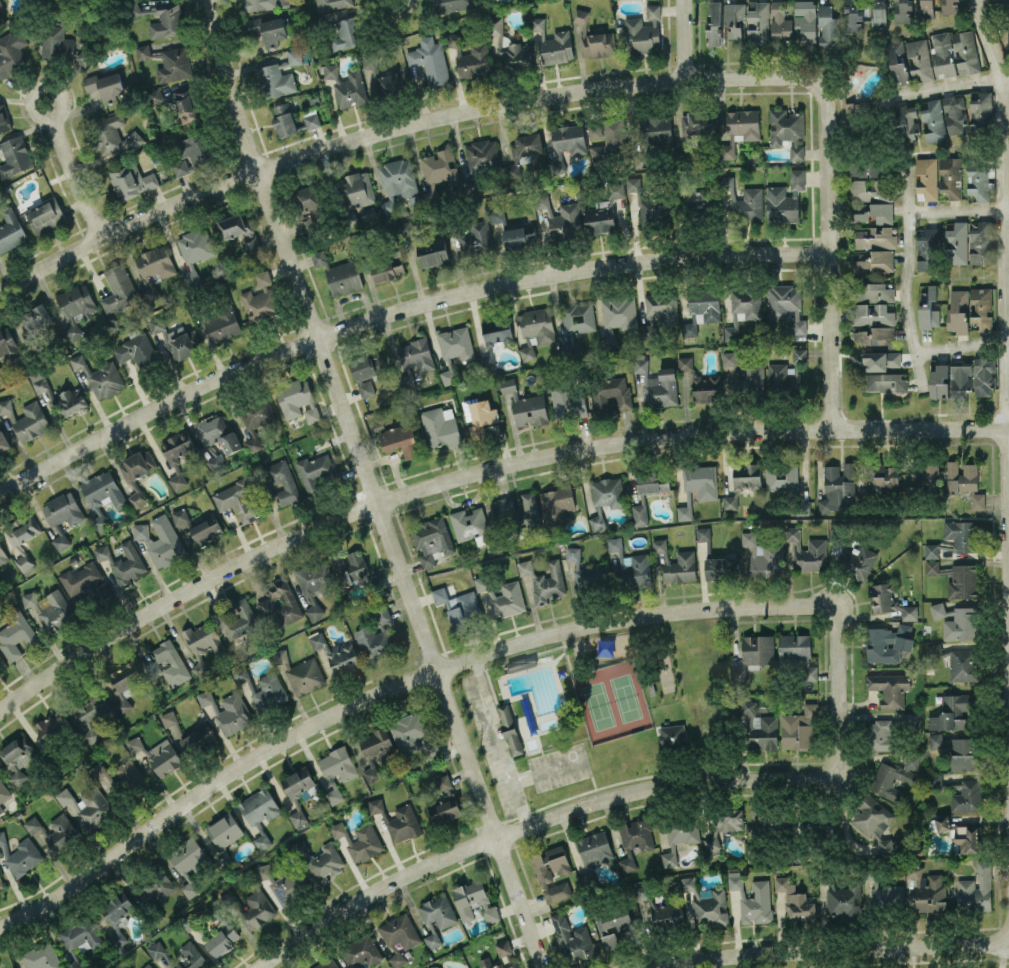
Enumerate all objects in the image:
building: (1003, 1)
building: (260, 4)
building: (332, 4)
road: (391, 5)
building: (451, 5)
building: (950, 6)
building: (926, 8)
road: (981, 9)
building: (653, 10)
building: (902, 10)
building: (878, 13)
building: (582, 15)
building: (852, 16)
building: (167, 20)
building: (734, 20)
building: (806, 20)
building: (780, 22)
building: (759, 23)
building: (714, 24)
building: (828, 26)
building: (268, 30)
building: (347, 32)
building: (1004, 34)
building: (641, 35)
road: (686, 39)
building: (594, 42)
building: (553, 44)
building: (62, 46)
building: (509, 47)
building: (12, 51)
building: (955, 53)
building: (294, 56)
building: (470, 59)
building: (429, 60)
building: (909, 61)
building: (168, 62)
building: (330, 71)
building: (380, 79)
building: (276, 80)
building: (105, 86)
road: (943, 88)
building: (350, 89)
building: (183, 102)
building: (856, 108)
building: (981, 112)
building: (954, 114)
road: (39, 118)
building: (3, 119)
building: (311, 119)
building: (284, 120)
building: (933, 120)
building: (695, 123)
road: (396, 128)
building: (655, 129)
building: (787, 130)
building: (112, 135)
building: (569, 138)
building: (608, 138)
building: (526, 147)
building: (192, 154)
building: (482, 154)
building: (15, 155)
building: (868, 168)
building: (438, 171)
road: (76, 177)
building: (797, 178)
building: (927, 178)
building: (950, 178)
building: (978, 179)
building: (131, 181)
building: (397, 184)
building: (616, 189)
building: (361, 193)
building: (308, 197)
building: (540, 200)
building: (703, 200)
building: (740, 200)
building: (872, 200)
building: (645, 202)
building: (781, 204)
road: (957, 209)
building: (497, 215)
building: (45, 216)
building: (600, 217)
building: (566, 220)
road: (1006, 221)
building: (307, 224)
building: (405, 229)
building: (10, 230)
building: (238, 230)
building: (519, 236)
building: (875, 237)
building: (476, 239)
building: (956, 242)
building: (980, 242)
building: (927, 247)
building: (195, 251)
building: (433, 252)
road: (828, 255)
building: (873, 260)
building: (155, 262)
building: (388, 269)
building: (339, 274)
road: (905, 274)
building: (119, 289)
building: (261, 299)
building: (705, 303)
building: (746, 303)
building: (873, 304)
building: (786, 305)
building: (77, 306)
building: (662, 306)
building: (929, 308)
building: (969, 309)
road: (397, 313)
building: (618, 314)
building: (578, 316)
building: (36, 318)
building: (157, 324)
building: (222, 324)
building: (537, 326)
building: (689, 329)
building: (732, 330)
building: (497, 332)
building: (875, 335)
building: (180, 343)
building: (456, 343)
building: (8, 344)
road: (960, 344)
building: (137, 350)
building: (527, 352)
building: (414, 360)
building: (881, 360)
building: (685, 362)
building: (367, 372)
building: (740, 372)
building: (787, 372)
building: (984, 375)
building: (99, 376)
building: (447, 377)
building: (960, 380)
building: (939, 381)
building: (39, 382)
building: (886, 382)
building: (657, 383)
building: (706, 388)
building: (611, 393)
building: (297, 399)
building: (71, 400)
building: (567, 400)
building: (525, 405)
building: (5, 406)
building: (479, 416)
building: (31, 421)
building: (257, 422)
building: (441, 426)
building: (212, 428)
building: (400, 440)
building: (3, 441)
building: (231, 442)
building: (177, 455)
building: (216, 462)
building: (138, 464)
building: (315, 470)
road: (476, 474)
building: (781, 476)
building: (961, 476)
building: (881, 478)
building: (924, 479)
building: (743, 481)
building: (283, 482)
building: (652, 482)
road: (371, 486)
building: (837, 486)
building: (697, 487)
building: (607, 492)
building: (102, 495)
building: (137, 498)
road: (1007, 499)
building: (238, 500)
building: (978, 500)
building: (556, 503)
building: (504, 507)
building: (63, 509)
building: (530, 511)
building: (640, 514)
building: (597, 520)
building: (470, 524)
building: (197, 528)
building: (23, 530)
building: (703, 533)
building: (960, 534)
building: (160, 540)
building: (431, 540)
building: (61, 541)
building: (659, 545)
building: (807, 551)
building: (2, 555)
building: (763, 556)
building: (932, 558)
building: (861, 561)
building: (23, 562)
building: (123, 562)
building: (632, 565)
building: (350, 566)
building: (679, 567)
building: (716, 568)
building: (586, 570)
building: (544, 580)
building: (962, 580)
building: (86, 582)
building: (481, 583)
building: (315, 585)
building: (883, 597)
building: (507, 599)
building: (280, 603)
building: (458, 605)
building: (49, 608)
building: (909, 612)
building: (382, 613)
building: (236, 619)
building: (957, 621)
building: (17, 634)
building: (204, 639)
building: (375, 642)
building: (888, 642)
building: (797, 652)
building: (335, 654)
building: (754, 654)
road: (471, 659)
building: (1, 660)
building: (170, 662)
building: (521, 663)
building: (964, 664)
building: (300, 673)
building: (122, 685)
building: (890, 688)
building: (261, 689)
park: (612, 701)
building: (748, 707)
building: (228, 710)
building: (951, 712)
building: (89, 717)
building: (169, 717)
park: (557, 721)
building: (52, 726)
building: (510, 728)
building: (799, 728)
building: (408, 732)
building: (763, 732)
building: (882, 734)
building: (673, 735)
building: (197, 740)
road: (499, 741)
building: (952, 743)
parking lot: (494, 745)
building: (377, 751)
building: (158, 755)
building: (16, 759)
building: (965, 761)
parking lot: (559, 767)
building: (337, 769)
road: (550, 769)
building: (129, 773)
building: (894, 777)
building: (934, 780)
building: (3, 791)
building: (297, 791)
building: (967, 797)
building: (444, 801)
building: (87, 805)
building: (376, 805)
building: (1, 808)
building: (260, 812)
building: (771, 818)
building: (871, 818)
building: (730, 819)
road: (532, 822)
building: (403, 823)
building: (942, 823)
building: (33, 824)
building: (224, 830)
building: (61, 832)
building: (2, 837)
building: (968, 838)
building: (679, 839)
building: (359, 840)
building: (635, 840)
building: (712, 845)
building: (888, 846)
building: (594, 847)
building: (22, 855)
building: (557, 859)
building: (326, 862)
building: (189, 863)
building: (541, 868)
building: (735, 880)
building: (1, 882)
building: (282, 882)
building: (158, 889)
building: (976, 889)
building: (557, 892)
building: (929, 892)
building: (889, 894)
building: (795, 899)
building: (845, 900)
building: (474, 901)
building: (707, 902)
building: (756, 903)
building: (257, 909)
building: (118, 910)
building: (438, 911)
building: (668, 913)
building: (190, 922)
building: (614, 926)
building: (399, 931)
building: (80, 934)
building: (432, 937)
building: (223, 939)
building: (572, 939)
road: (832, 948)
building: (156, 949)
building: (360, 951)
building: (501, 956)
building: (42, 957)
building: (192, 957)
building: (327, 963)
building: (146, 966)
building: (439, 967)

